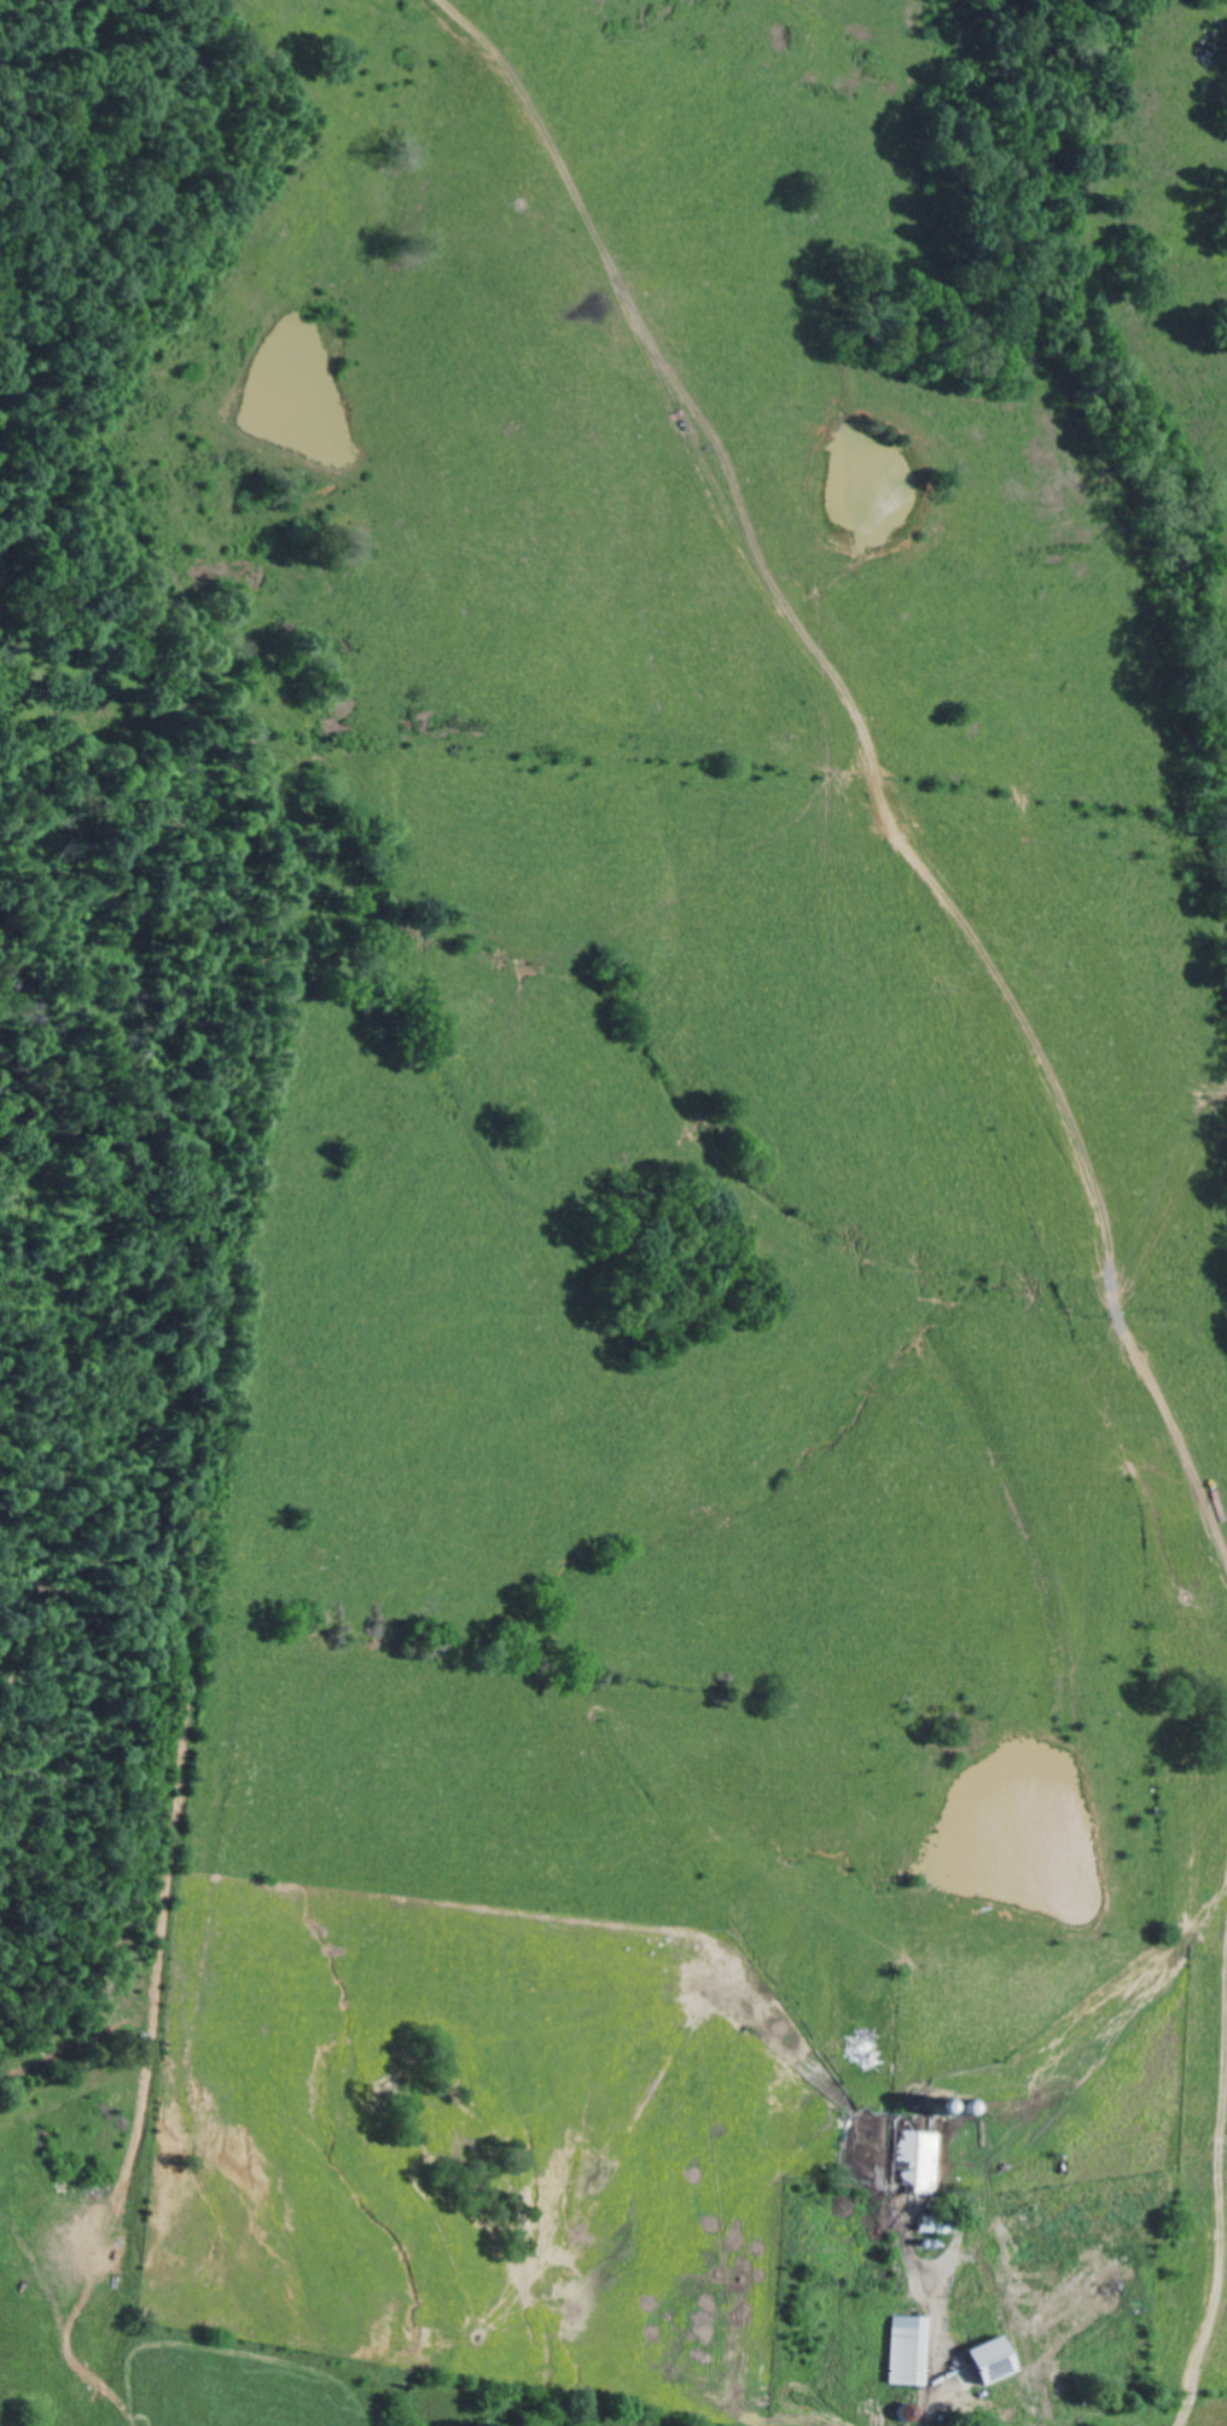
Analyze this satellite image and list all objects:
building: (886, 2152)
building: (902, 2352)

